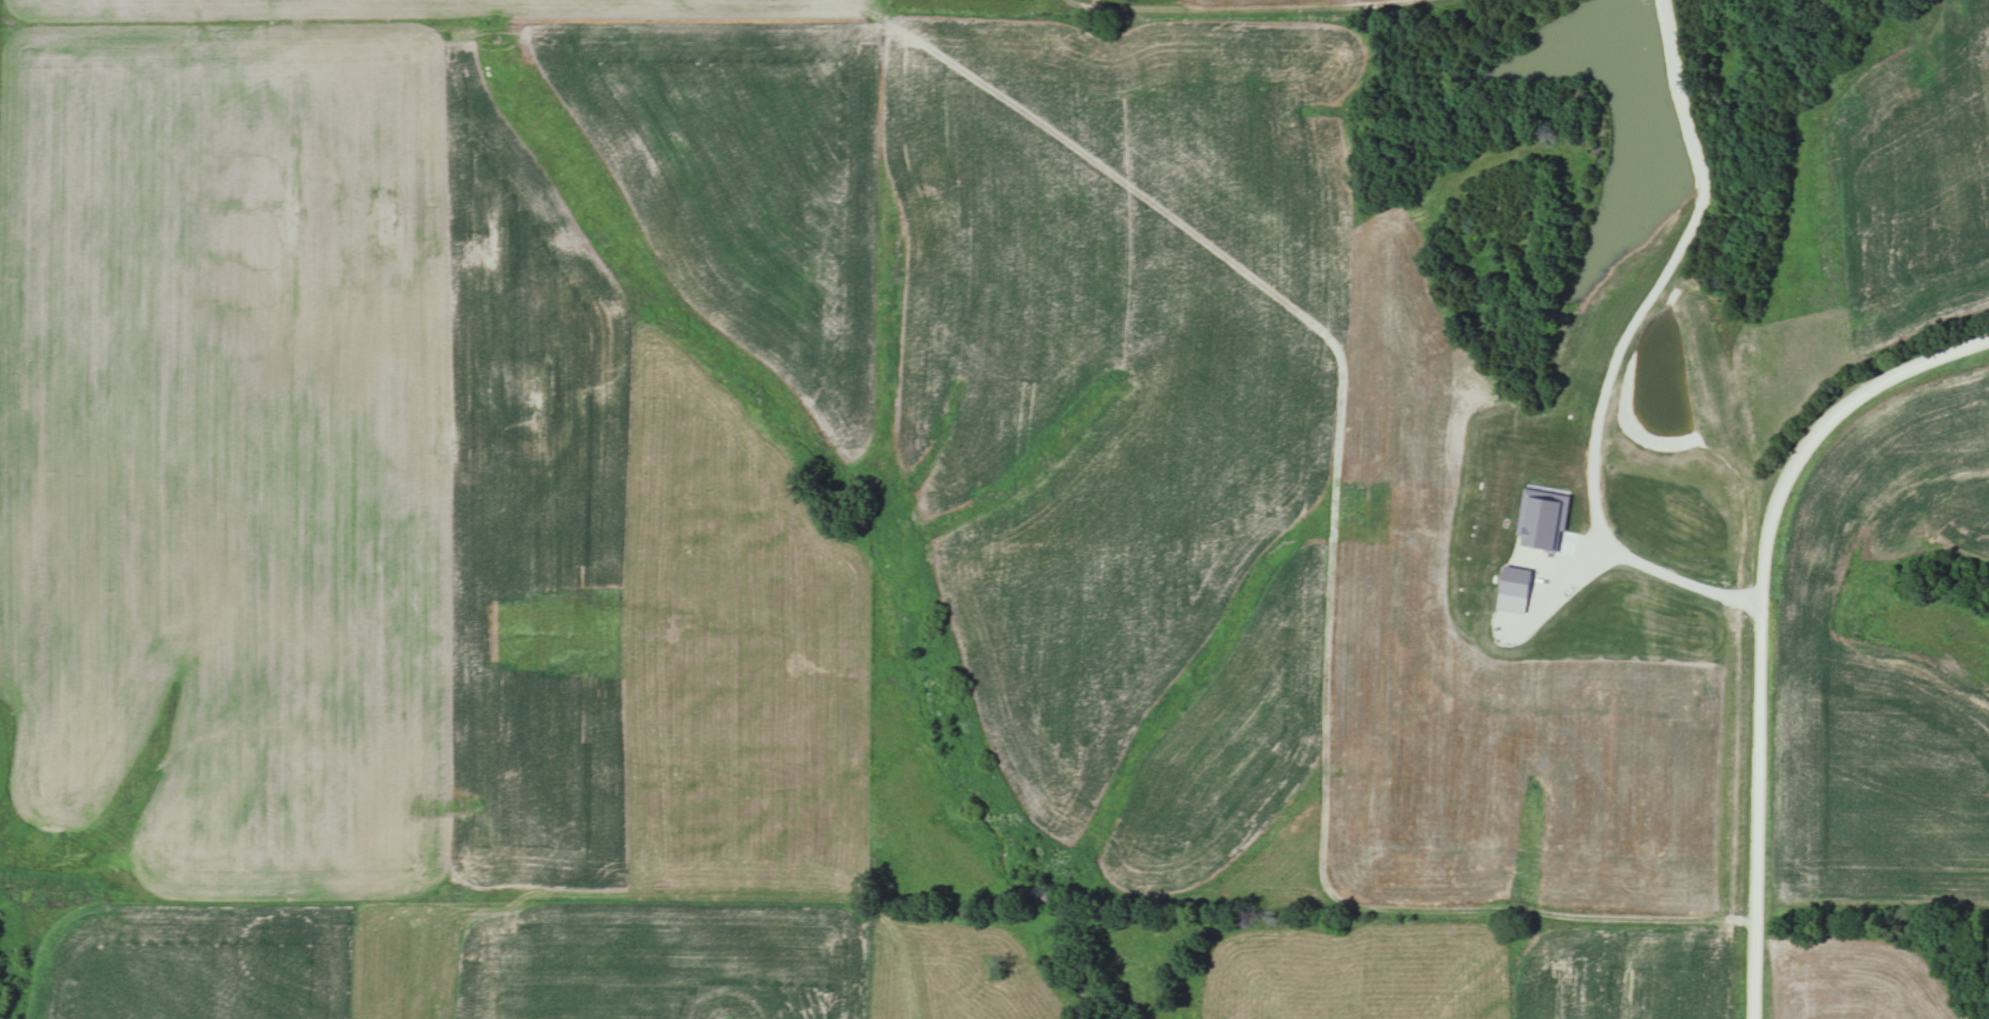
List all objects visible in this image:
building: (1563, 500)
road: (1775, 643)

